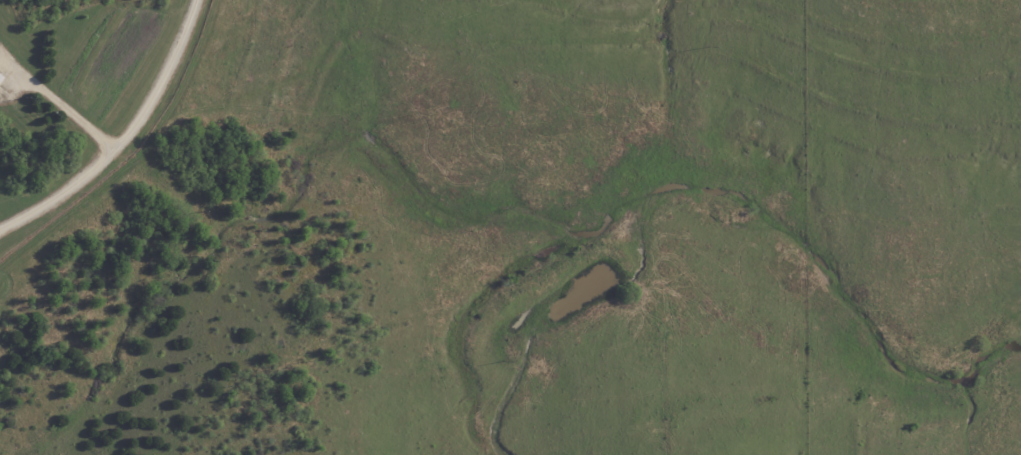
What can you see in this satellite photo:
building: (1, 77)
road: (121, 135)

